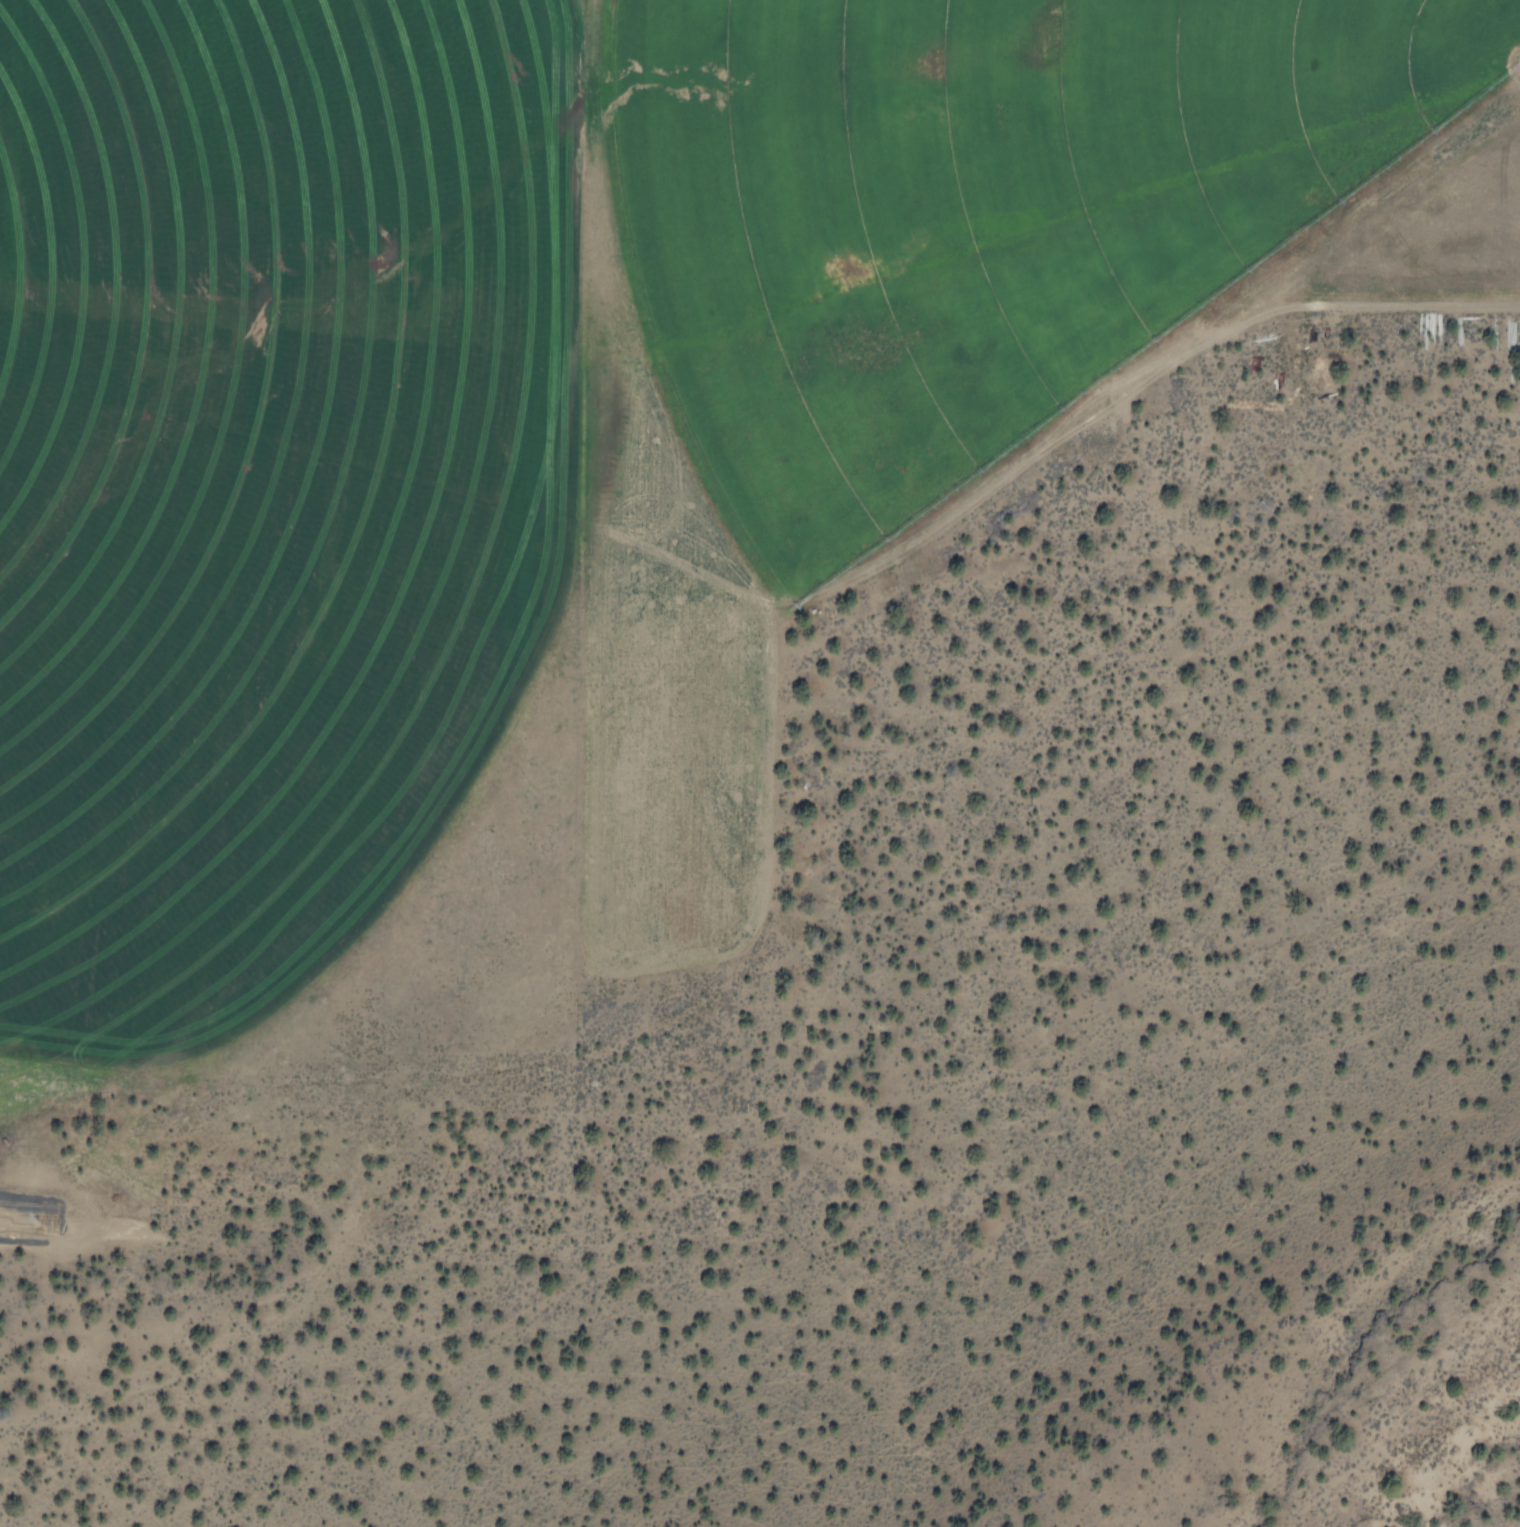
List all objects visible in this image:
crop: (575, 449)

